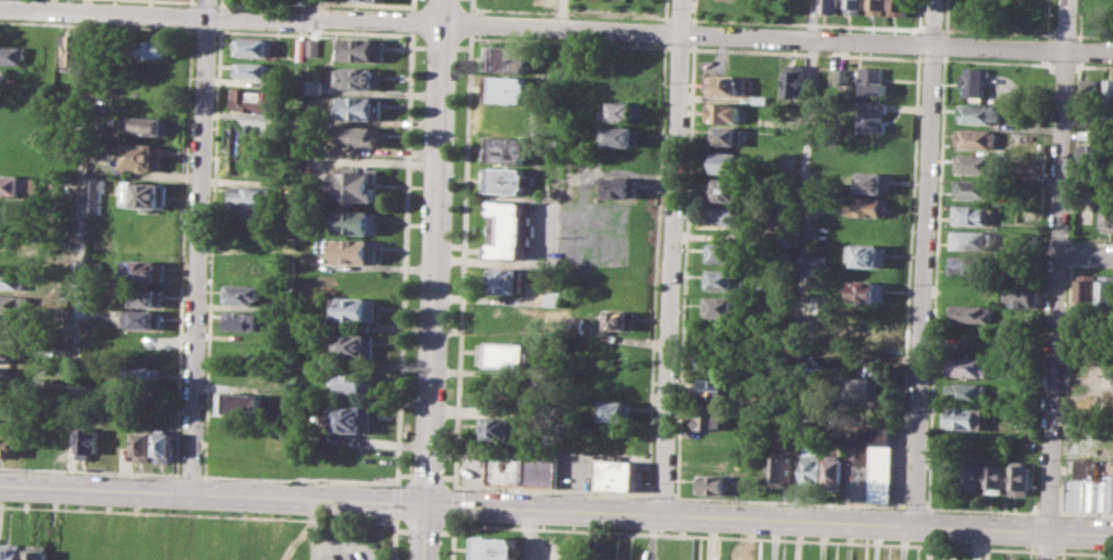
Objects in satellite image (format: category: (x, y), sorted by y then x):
building: (375, 0)
road: (411, 4)
building: (830, 5)
building: (853, 7)
building: (877, 7)
building: (899, 7)
road: (206, 8)
road: (314, 9)
road: (102, 13)
road: (565, 13)
road: (411, 20)
road: (659, 32)
building: (314, 46)
building: (253, 47)
building: (151, 48)
building: (299, 48)
building: (70, 49)
building: (362, 49)
building: (13, 54)
building: (512, 58)
building: (251, 69)
building: (362, 78)
building: (796, 80)
building: (872, 80)
building: (974, 82)
building: (727, 84)
building: (839, 84)
building: (314, 87)
building: (511, 89)
building: (1090, 95)
building: (1108, 95)
building: (761, 98)
building: (251, 99)
building: (362, 106)
building: (624, 112)
building: (725, 113)
building: (979, 113)
building: (872, 116)
building: (147, 125)
building: (362, 136)
building: (620, 136)
building: (728, 136)
building: (976, 138)
building: (509, 149)
building: (1092, 151)
building: (144, 155)
building: (728, 162)
building: (974, 163)
building: (1029, 167)
building: (507, 179)
building: (872, 183)
building: (19, 184)
building: (355, 185)
building: (557, 185)
building: (620, 186)
building: (973, 188)
building: (727, 190)
building: (249, 193)
building: (146, 194)
building: (95, 195)
building: (870, 206)
building: (788, 207)
building: (249, 212)
building: (973, 214)
building: (1105, 214)
building: (727, 215)
building: (357, 221)
building: (510, 229)
building: (970, 239)
road: (78, 249)
building: (355, 250)
building: (726, 252)
road: (1086, 252)
building: (11, 254)
road: (197, 254)
building: (867, 254)
road: (673, 258)
road: (515, 260)
road: (805, 260)
road: (924, 262)
building: (817, 264)
building: (969, 265)
building: (144, 270)
building: (10, 278)
road: (433, 279)
building: (502, 279)
building: (726, 279)
road: (1057, 279)
building: (763, 289)
building: (868, 290)
building: (1088, 292)
building: (241, 293)
building: (1106, 293)
building: (145, 296)
building: (1024, 296)
building: (554, 297)
building: (9, 302)
building: (722, 307)
building: (814, 307)
building: (354, 309)
building: (973, 312)
building: (141, 318)
building: (620, 318)
building: (245, 320)
building: (575, 324)
building: (353, 345)
building: (7, 353)
road: (399, 355)
building: (508, 355)
building: (718, 361)
building: (969, 365)
building: (139, 373)
building: (7, 376)
building: (353, 381)
building: (720, 387)
building: (866, 388)
building: (967, 391)
building: (5, 402)
building: (239, 403)
building: (613, 410)
building: (713, 416)
building: (351, 419)
building: (965, 419)
building: (500, 427)
building: (87, 442)
building: (143, 445)
building: (8, 446)
building: (162, 446)
building: (237, 457)
road: (470, 458)
building: (872, 461)
building: (520, 467)
building: (811, 467)
road: (87, 470)
building: (780, 470)
street lamp: (78, 471)
parking lot: (573, 471)
building: (834, 472)
road: (402, 473)
street lamp: (154, 475)
road: (424, 475)
building: (616, 475)
building: (972, 475)
road: (186, 476)
building: (993, 476)
building: (1019, 477)
street lamp: (224, 478)
building: (712, 481)
building: (1084, 484)
road: (396, 485)
road: (454, 488)
road: (540, 490)
building: (1108, 491)
road: (661, 494)
road: (787, 500)
road: (395, 502)
traffic signals: (424, 503)
road: (453, 503)
road: (913, 505)
road: (980, 508)
road: (556, 510)
road: (1047, 511)
road: (196, 514)
road: (1086, 514)
road: (400, 529)
road: (422, 530)
road: (445, 532)
road: (743, 537)
road: (393, 538)
road: (452, 539)
building: (682, 545)
building: (498, 548)
road: (1046, 550)
building: (11, 551)
building: (37, 551)
road: (1084, 551)
road: (1029, 555)
road: (1061, 556)
building: (745, 558)
building: (848, 559)

